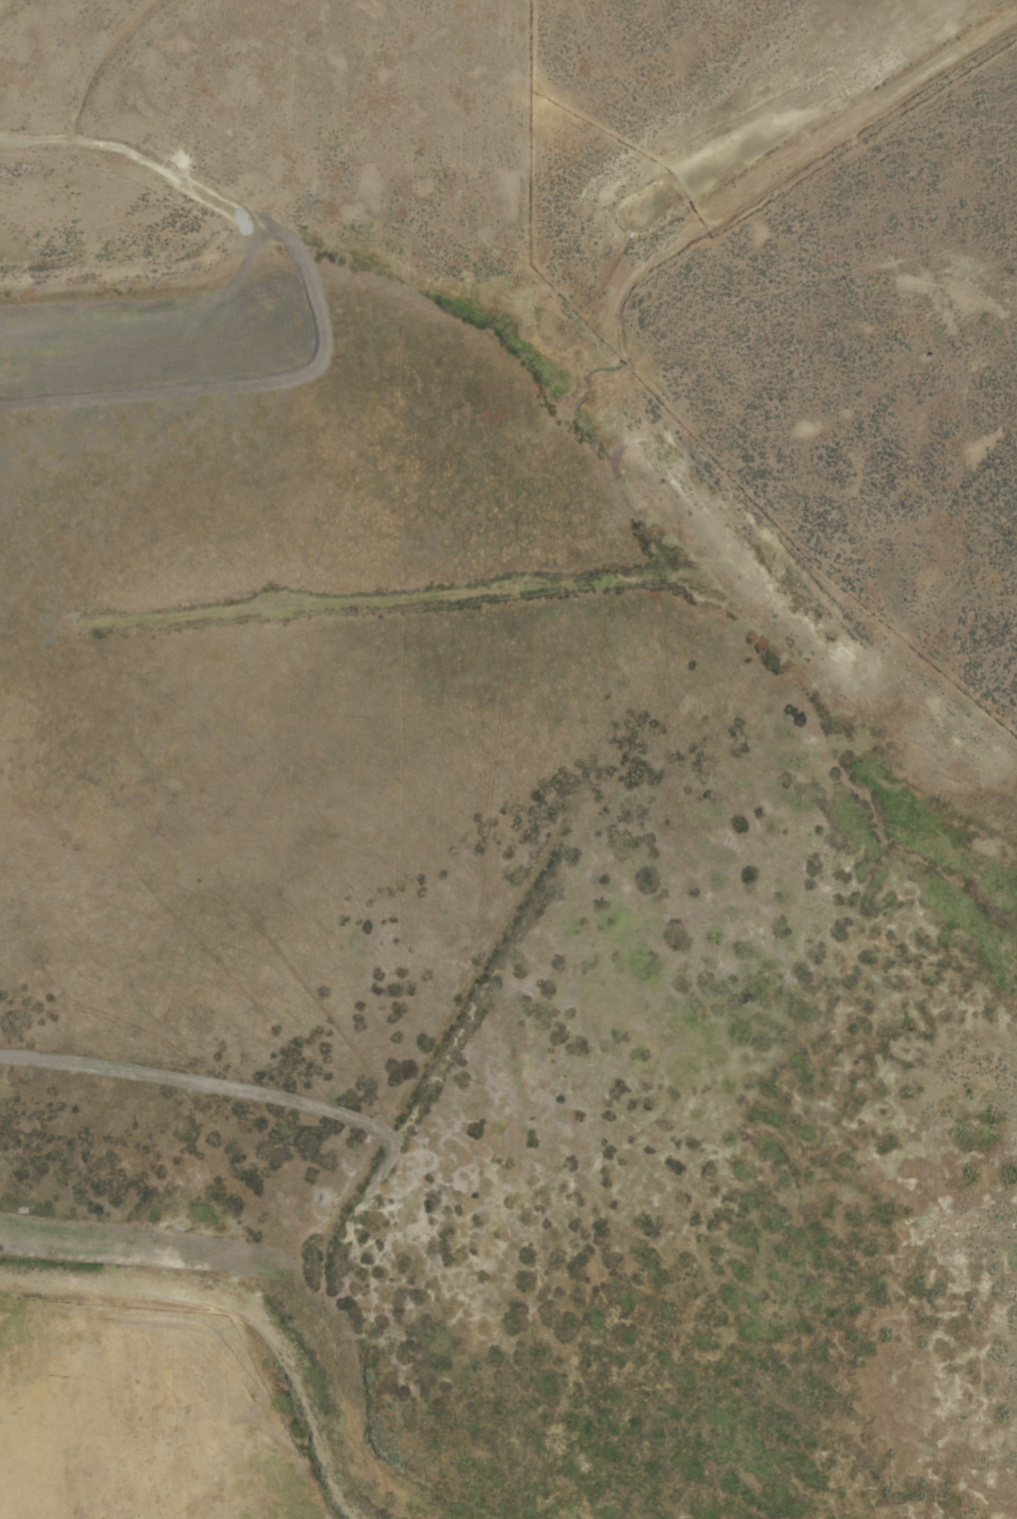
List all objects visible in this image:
crop: (622, 802)

